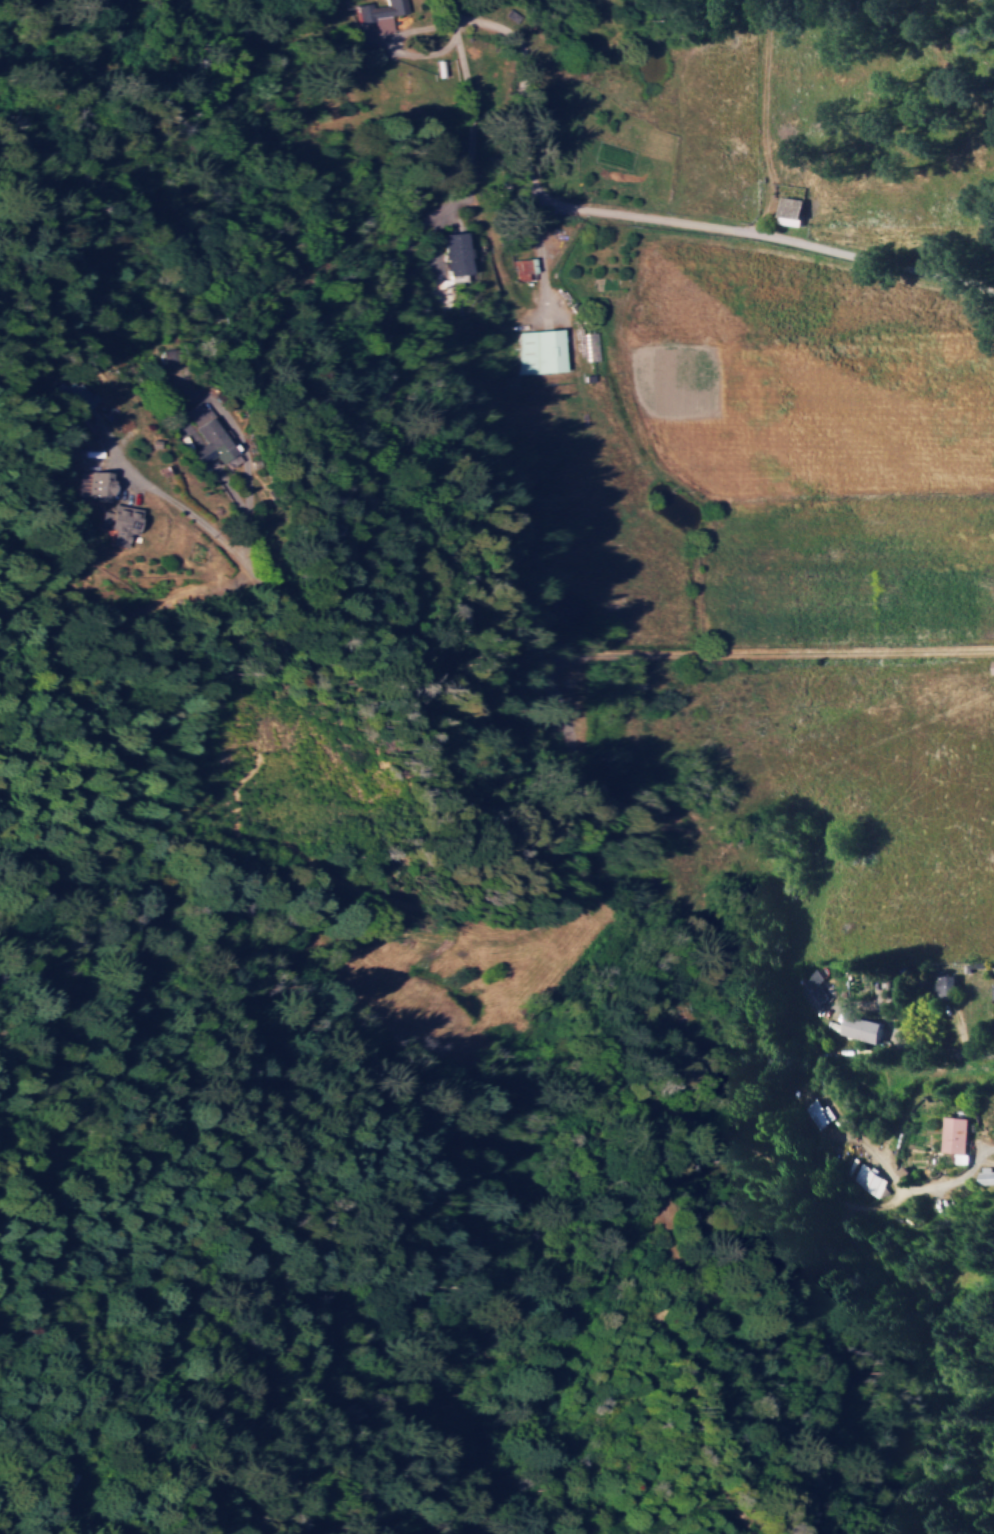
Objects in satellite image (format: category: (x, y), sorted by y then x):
building: (382, 15)
road: (471, 110)
building: (789, 208)
road: (662, 220)
building: (457, 251)
building: (543, 350)
building: (208, 441)
building: (96, 483)
building: (123, 521)
building: (993, 665)
building: (946, 985)
building: (993, 989)
building: (858, 1028)
building: (814, 1113)
building: (954, 1134)
building: (864, 1175)
building: (986, 1175)

